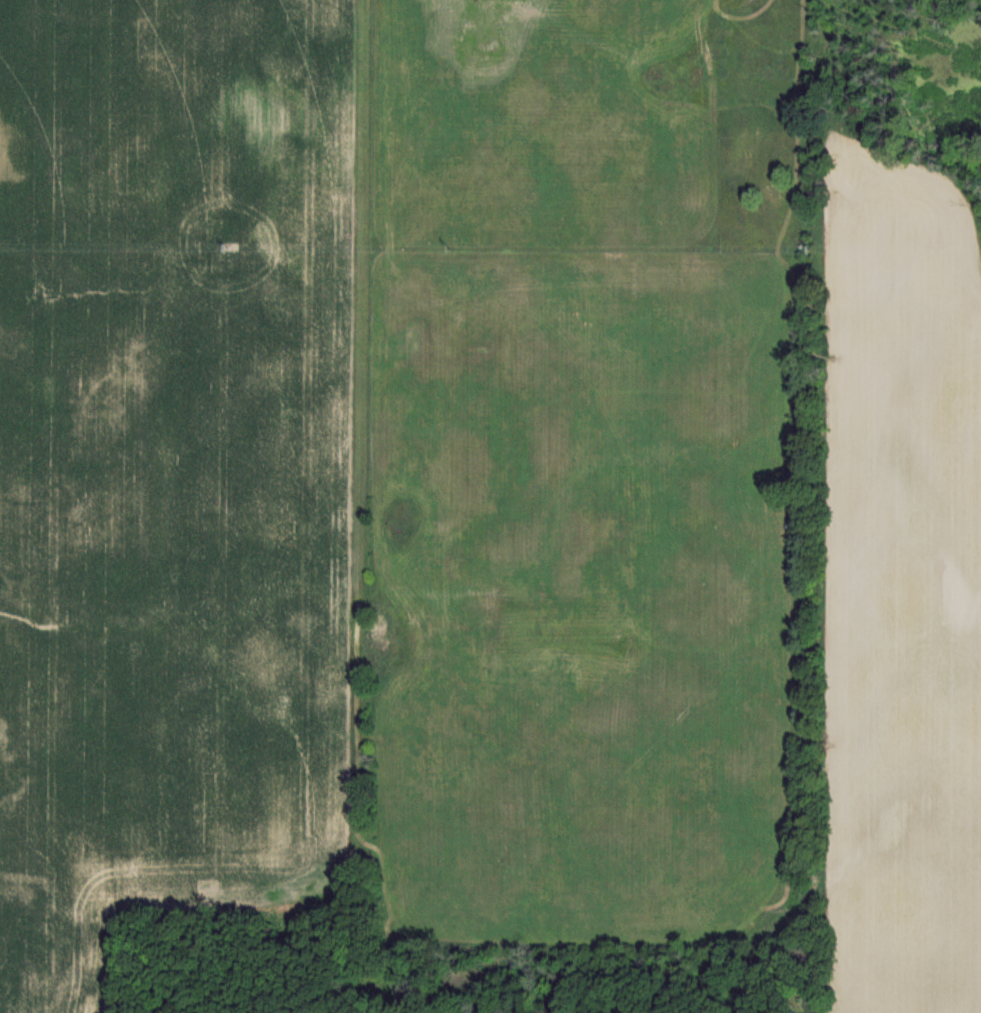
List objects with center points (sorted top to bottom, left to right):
building: (770, 194)

